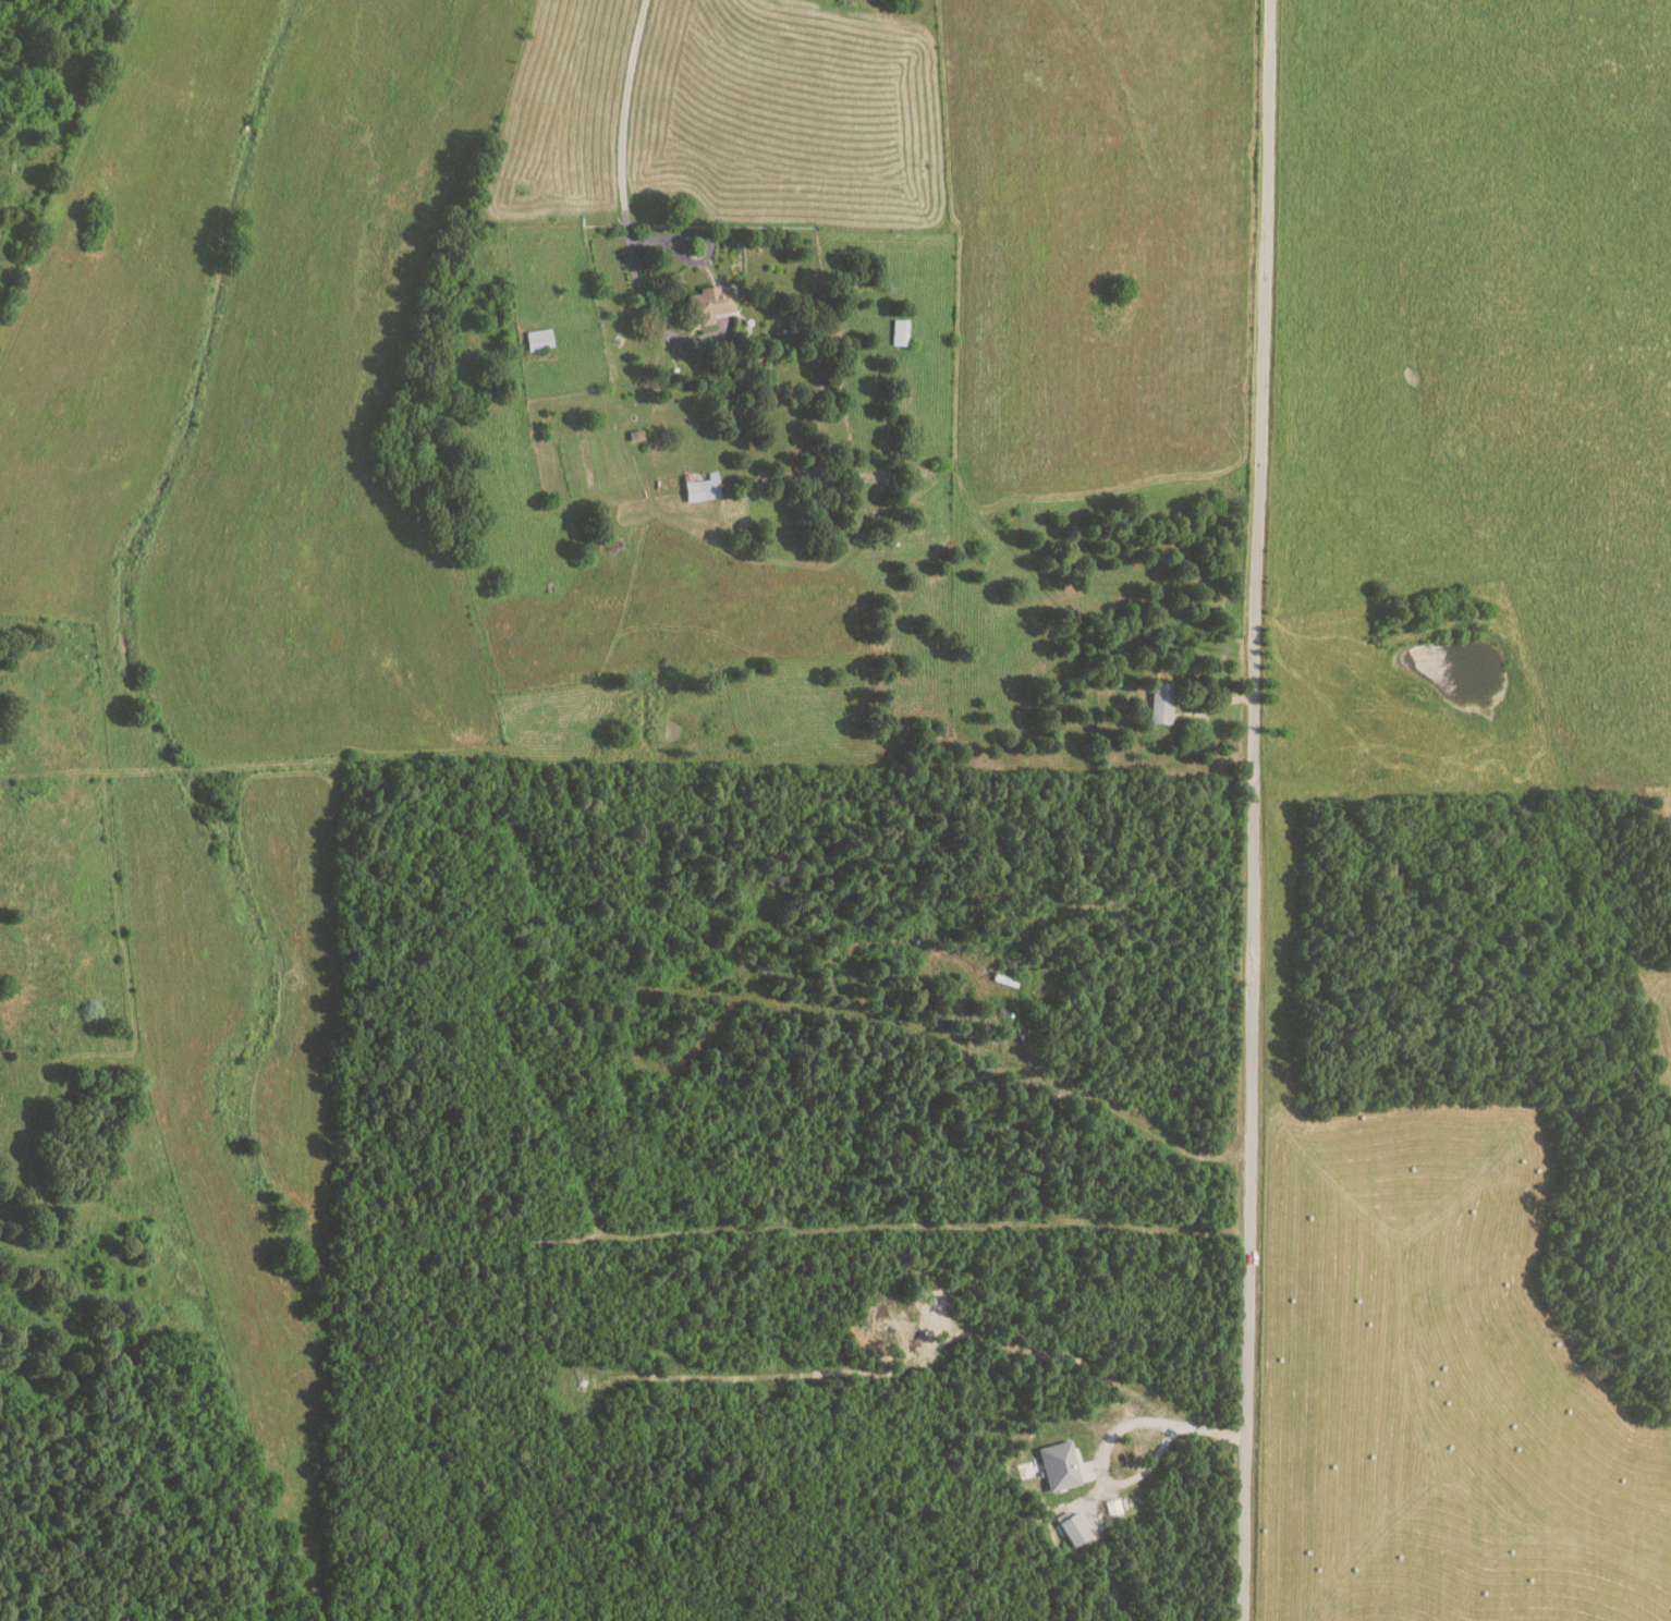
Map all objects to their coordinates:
road: (619, 172)
building: (711, 303)
building: (900, 331)
building: (703, 488)
building: (1162, 702)
road: (1252, 809)
road: (1105, 1437)
building: (1059, 1466)
building: (1072, 1529)

